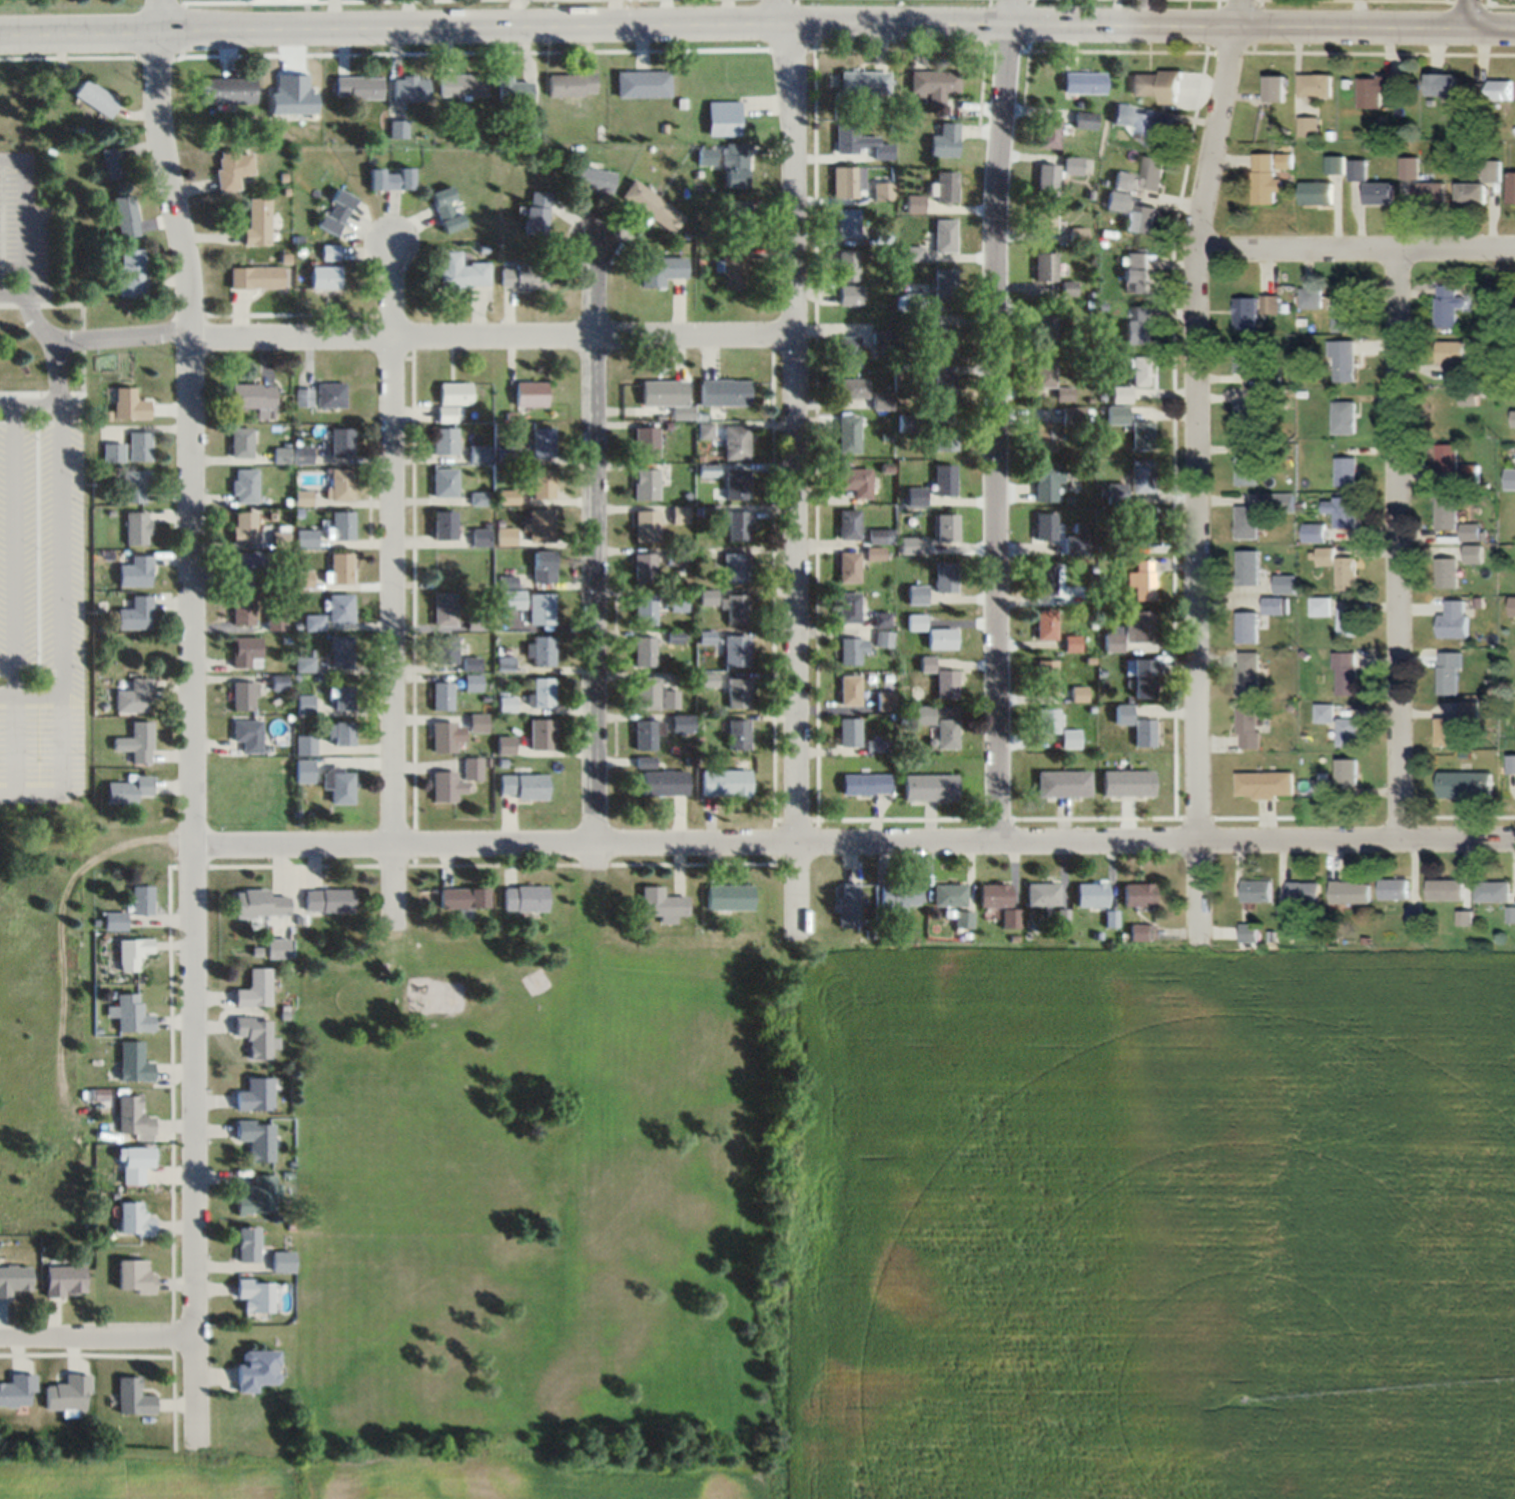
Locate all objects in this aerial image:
park: (1356, 4)
road: (1466, 13)
road: (158, 17)
road: (812, 24)
road: (1491, 27)
road: (79, 35)
building: (1083, 82)
building: (569, 84)
building: (640, 84)
building: (863, 84)
building: (1442, 84)
building: (459, 85)
building: (933, 85)
building: (1158, 85)
building: (1316, 85)
building: (355, 87)
building: (407, 87)
building: (1276, 89)
building: (1498, 89)
building: (225, 90)
building: (511, 90)
building: (1375, 90)
building: (94, 98)
building: (720, 117)
building: (1085, 120)
building: (1309, 126)
building: (396, 128)
building: (1160, 132)
building: (1050, 133)
building: (858, 141)
building: (943, 141)
building: (704, 155)
building: (1284, 160)
building: (113, 162)
building: (732, 164)
building: (1335, 164)
building: (1072, 166)
building: (1409, 167)
building: (232, 168)
building: (1357, 170)
building: (1154, 173)
building: (389, 178)
building: (590, 178)
building: (1048, 179)
building: (1265, 179)
building: (846, 181)
building: (1123, 181)
road: (170, 184)
building: (944, 187)
building: (882, 189)
building: (1512, 189)
building: (1317, 191)
building: (1429, 192)
building: (1379, 194)
building: (1473, 194)
building: (1117, 201)
building: (914, 203)
building: (650, 206)
building: (446, 208)
building: (334, 211)
road: (27, 212)
building: (534, 212)
building: (733, 213)
building: (126, 216)
building: (257, 220)
building: (1045, 220)
building: (1142, 220)
building: (846, 223)
parking lot: (22, 228)
building: (943, 235)
building: (1077, 235)
building: (329, 252)
building: (913, 253)
road: (1354, 256)
building: (847, 265)
building: (731, 267)
building: (1044, 267)
building: (659, 270)
building: (460, 271)
building: (1138, 271)
building: (132, 273)
building: (523, 276)
building: (256, 277)
building: (324, 277)
building: (944, 283)
building: (849, 295)
road: (14, 296)
building: (1311, 298)
building: (1271, 304)
building: (1449, 306)
building: (1246, 314)
building: (1346, 317)
road: (35, 322)
building: (1140, 326)
building: (1045, 330)
road: (491, 335)
road: (123, 336)
building: (880, 337)
building: (943, 342)
building: (848, 351)
building: (1449, 352)
building: (1246, 357)
building: (1344, 361)
building: (1140, 369)
road: (58, 372)
building: (1454, 372)
building: (1044, 373)
building: (852, 388)
building: (944, 389)
building: (723, 392)
road: (41, 393)
building: (330, 394)
building: (530, 394)
building: (1121, 394)
building: (253, 396)
building: (303, 397)
building: (666, 397)
building: (453, 400)
building: (880, 400)
building: (130, 404)
road: (29, 405)
building: (1118, 415)
building: (1345, 417)
building: (1246, 418)
building: (1514, 419)
building: (905, 422)
road: (1002, 423)
building: (703, 431)
building: (847, 433)
building: (1143, 435)
building: (1045, 438)
building: (445, 440)
building: (944, 440)
building: (542, 441)
building: (242, 442)
building: (645, 442)
building: (734, 442)
building: (340, 443)
building: (139, 446)
building: (301, 454)
building: (478, 454)
building: (281, 455)
building: (1449, 458)
building: (1247, 469)
building: (707, 470)
road: (795, 470)
building: (1347, 471)
road: (84, 474)
road: (1195, 474)
building: (1141, 476)
building: (944, 479)
building: (1047, 480)
building: (1511, 480)
building: (855, 481)
building: (444, 482)
building: (542, 483)
building: (735, 483)
building: (645, 484)
building: (340, 485)
building: (135, 486)
building: (245, 486)
building: (1114, 491)
building: (506, 496)
building: (915, 496)
building: (1283, 502)
building: (1343, 510)
building: (1447, 512)
building: (679, 514)
building: (1248, 522)
building: (848, 524)
building: (445, 525)
building: (538, 525)
building: (737, 525)
building: (1143, 525)
building: (341, 526)
building: (646, 526)
building: (1046, 526)
building: (244, 527)
building: (945, 527)
building: (137, 528)
building: (1474, 531)
building: (1315, 533)
building: (505, 536)
building: (879, 536)
building: (480, 537)
building: (306, 539)
building: (913, 545)
building: (1066, 546)
road: (1398, 550)
road: (595, 551)
building: (875, 553)
building: (1474, 553)
building: (543, 566)
building: (849, 566)
building: (643, 567)
building: (734, 567)
building: (1248, 567)
building: (341, 568)
building: (1340, 568)
building: (244, 569)
building: (136, 571)
building: (1448, 572)
building: (944, 576)
building: (1045, 578)
building: (303, 579)
building: (1142, 580)
building: (1285, 584)
road: (392, 589)
building: (916, 594)
building: (706, 596)
road: (13, 599)
building: (678, 602)
building: (1275, 605)
building: (1321, 606)
building: (1513, 606)
building: (734, 607)
building: (849, 607)
parking lot: (41, 608)
building: (340, 608)
building: (444, 608)
building: (541, 608)
building: (243, 609)
building: (645, 609)
building: (135, 613)
building: (881, 619)
building: (1454, 620)
building: (916, 621)
building: (1348, 621)
building: (313, 622)
building: (1046, 624)
building: (1140, 626)
building: (1248, 627)
road: (60, 629)
building: (882, 638)
building: (940, 638)
building: (1113, 639)
building: (1071, 643)
building: (445, 649)
building: (851, 649)
building: (541, 650)
building: (736, 650)
building: (341, 651)
building: (644, 651)
building: (246, 652)
building: (925, 663)
building: (305, 664)
building: (472, 664)
building: (1347, 673)
building: (1448, 673)
building: (1249, 674)
building: (1046, 676)
building: (1142, 678)
building: (705, 679)
building: (278, 681)
building: (473, 682)
building: (945, 683)
building: (849, 690)
building: (541, 692)
building: (735, 692)
building: (1079, 693)
road: (30, 694)
building: (653, 694)
building: (135, 696)
building: (244, 696)
building: (443, 696)
building: (341, 697)
building: (884, 700)
building: (306, 703)
building: (507, 703)
building: (1325, 712)
building: (923, 714)
building: (1123, 714)
building: (1047, 720)
building: (478, 723)
building: (681, 723)
building: (1249, 727)
building: (848, 731)
building: (1449, 731)
building: (1144, 732)
building: (1348, 732)
building: (340, 733)
building: (542, 733)
building: (737, 733)
building: (946, 733)
building: (647, 734)
building: (248, 735)
building: (444, 737)
building: (1069, 738)
building: (137, 742)
building: (306, 744)
building: (505, 745)
building: (875, 746)
building: (1512, 764)
building: (474, 767)
building: (305, 771)
building: (1349, 772)
building: (725, 782)
building: (664, 783)
building: (864, 783)
building: (1063, 783)
building: (1128, 783)
building: (339, 784)
building: (1465, 784)
building: (1265, 785)
building: (1323, 785)
building: (446, 786)
building: (523, 786)
building: (929, 787)
building: (128, 790)
road: (855, 848)
road: (195, 887)
building: (1394, 889)
building: (1445, 890)
building: (1257, 891)
building: (1493, 891)
building: (1303, 892)
building: (1350, 893)
building: (948, 895)
building: (993, 895)
building: (1042, 895)
building: (1091, 895)
building: (1138, 895)
building: (729, 897)
building: (525, 898)
building: (897, 898)
building: (464, 899)
building: (142, 900)
building: (329, 900)
building: (259, 904)
building: (662, 904)
building: (847, 904)
building: (1414, 915)
building: (1465, 917)
building: (1010, 918)
building: (962, 919)
building: (1110, 919)
building: (115, 921)
building: (1141, 932)
building: (1249, 932)
building: (273, 948)
building: (132, 953)
building: (255, 989)
building: (130, 1013)
building: (256, 1036)
building: (133, 1062)
building: (255, 1094)
building: (132, 1118)
building: (256, 1138)
building: (135, 1163)
building: (258, 1196)
park: (538, 1197)
building: (134, 1219)
road: (792, 1220)
crop: (1088, 1242)
building: (247, 1244)
building: (282, 1262)
building: (134, 1275)
building: (14, 1279)
building: (65, 1281)
building: (255, 1294)
road: (97, 1337)
building: (257, 1370)
building: (17, 1390)
building: (68, 1394)
building: (133, 1397)

